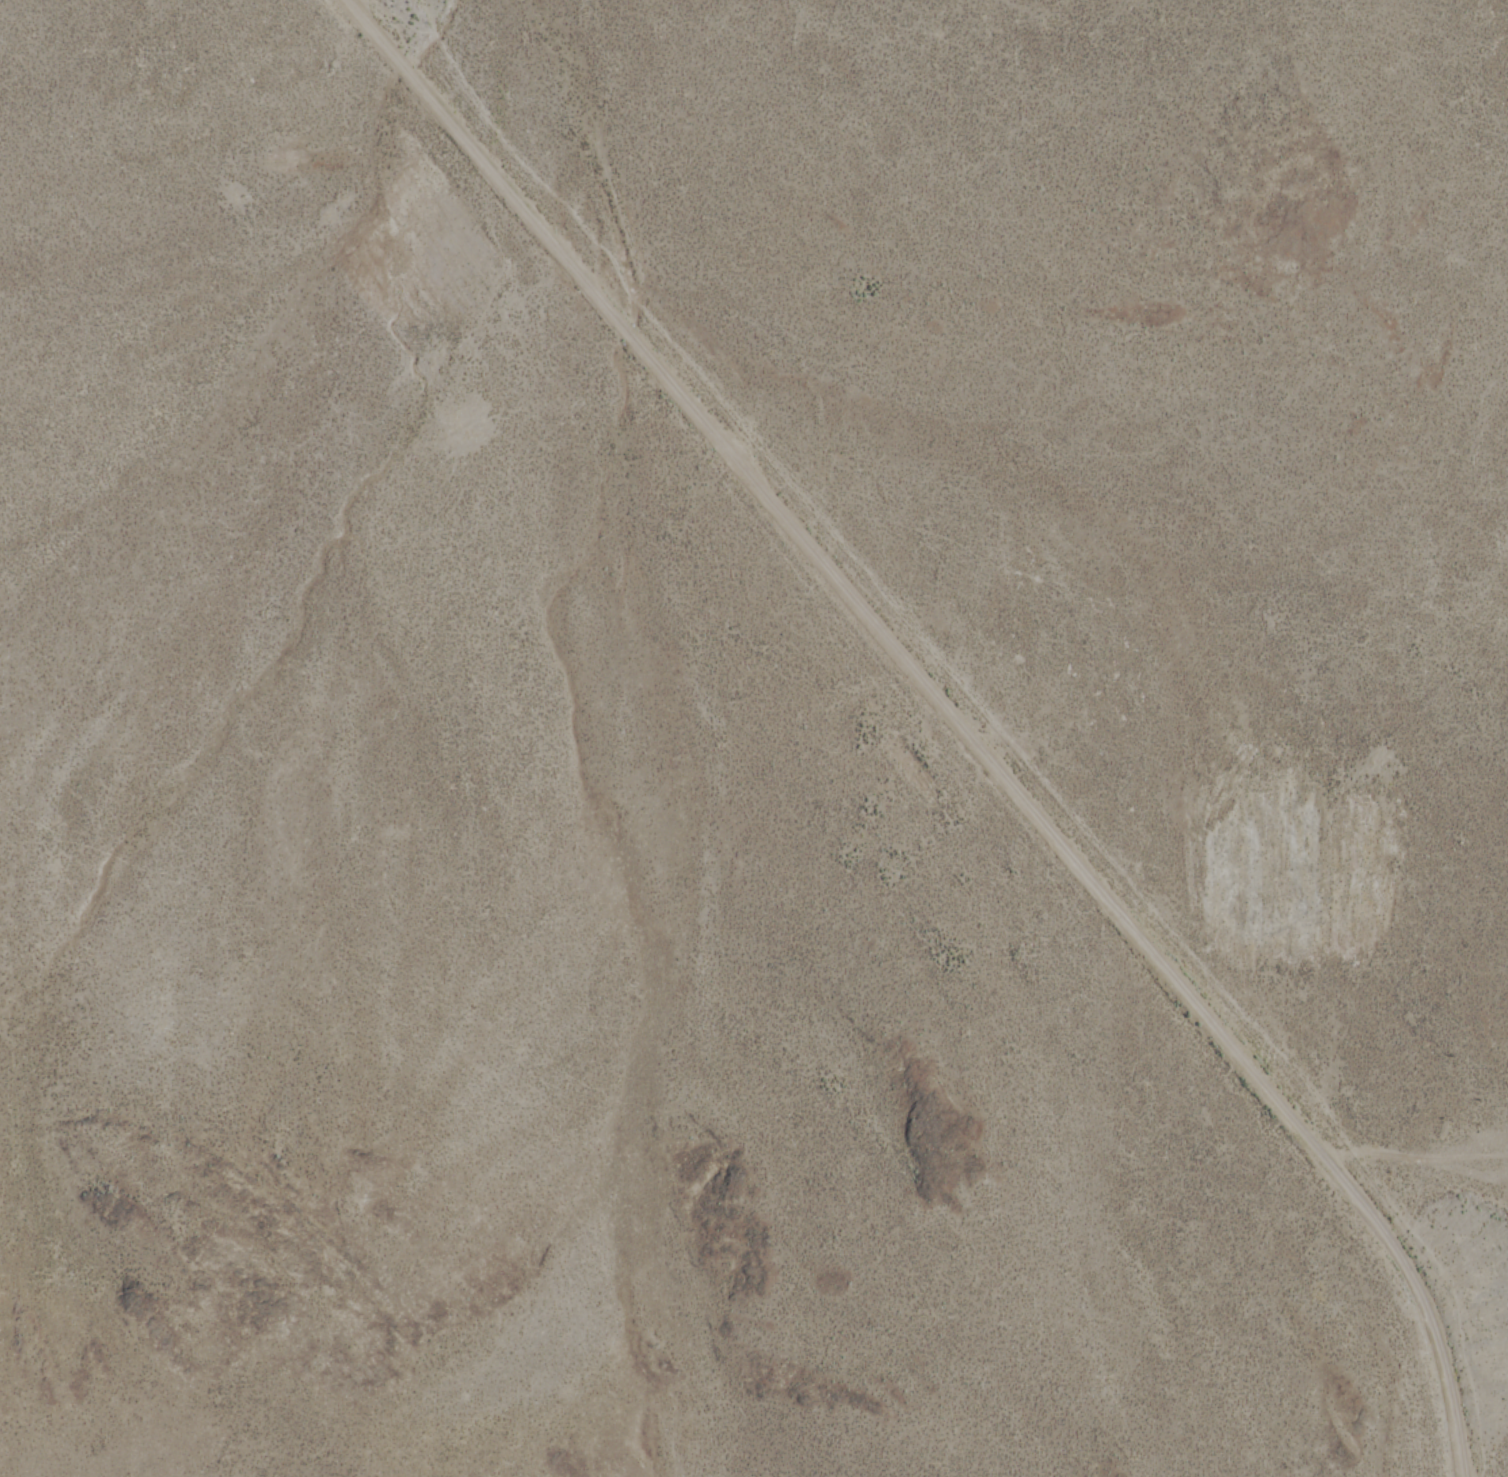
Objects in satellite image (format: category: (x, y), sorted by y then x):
road: (950, 714)
road: (1414, 1156)

